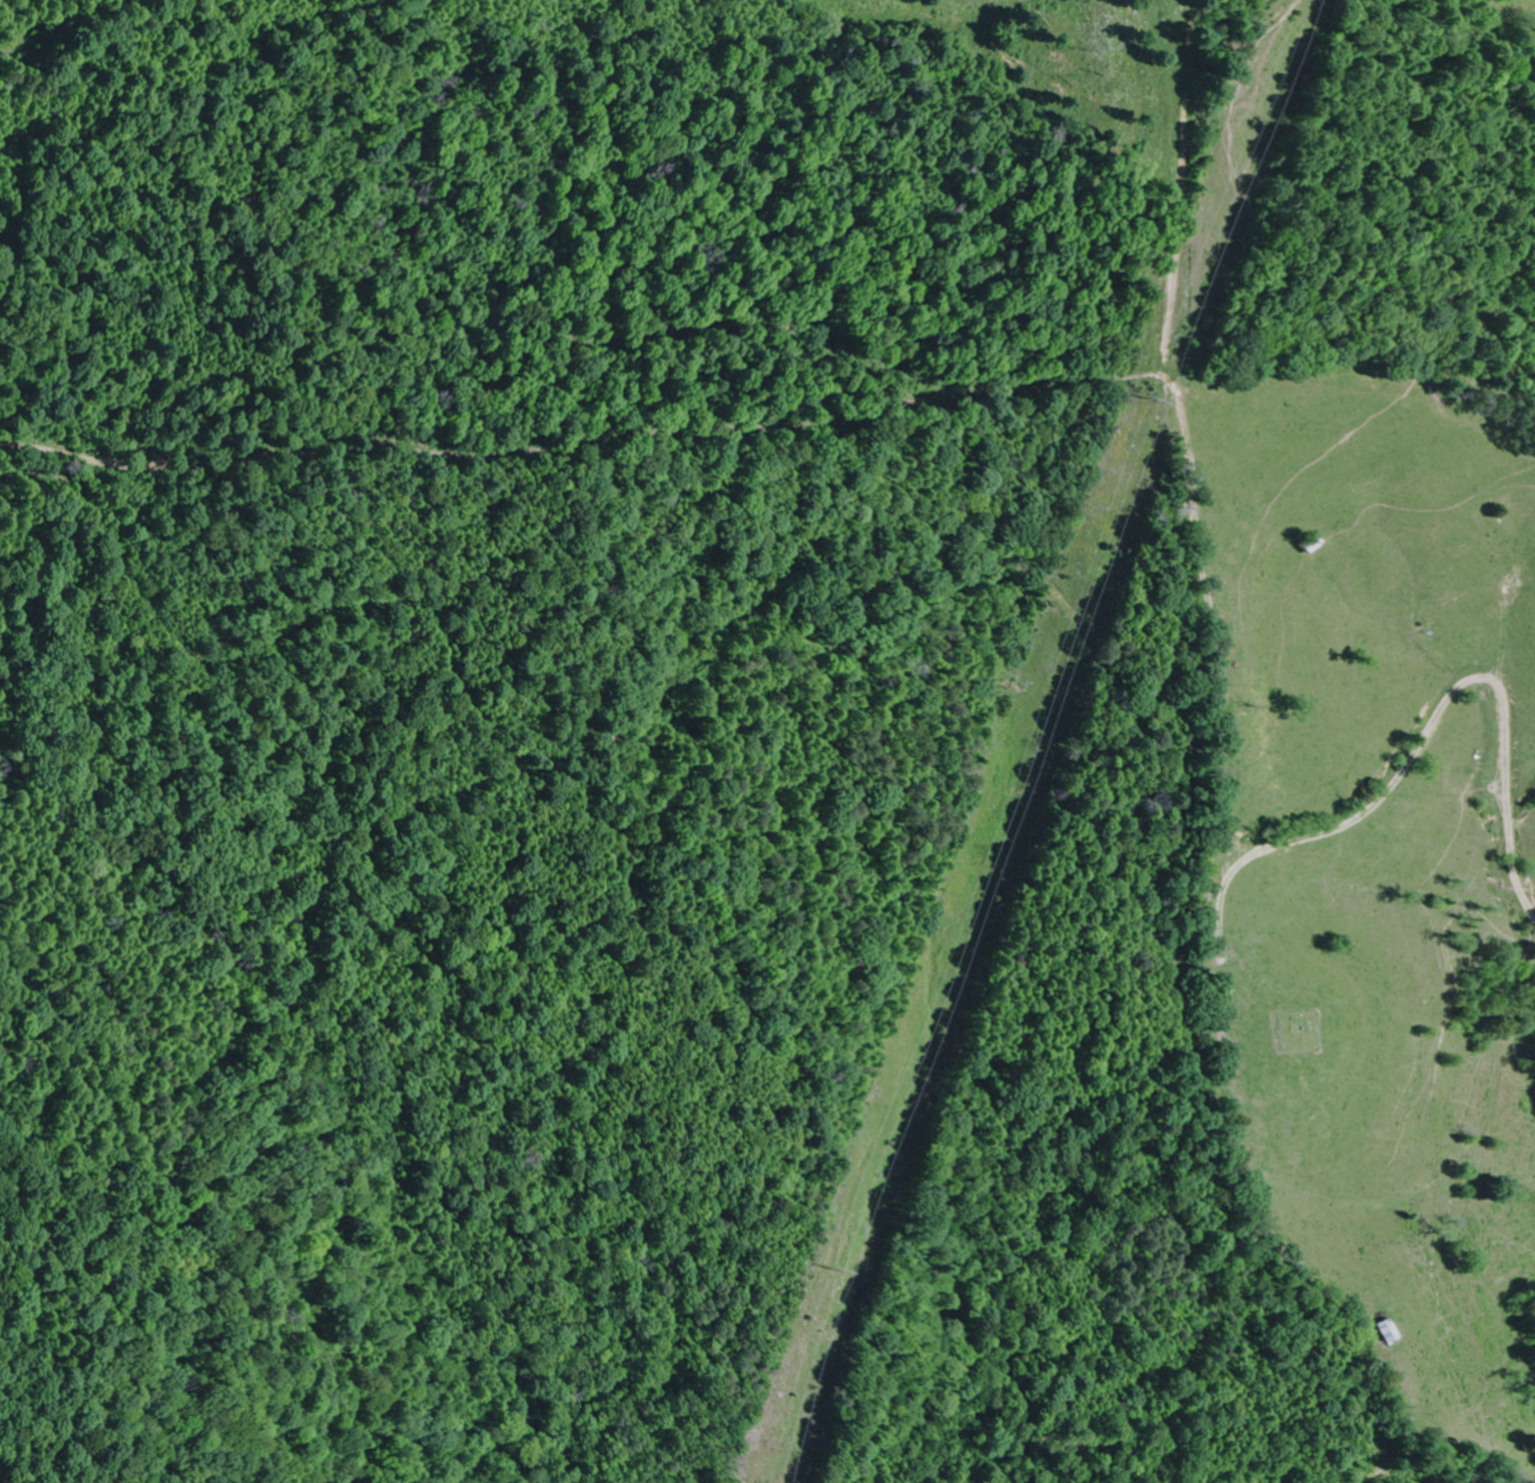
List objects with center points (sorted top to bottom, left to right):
park: (1297, 1030)
building: (1387, 1330)

